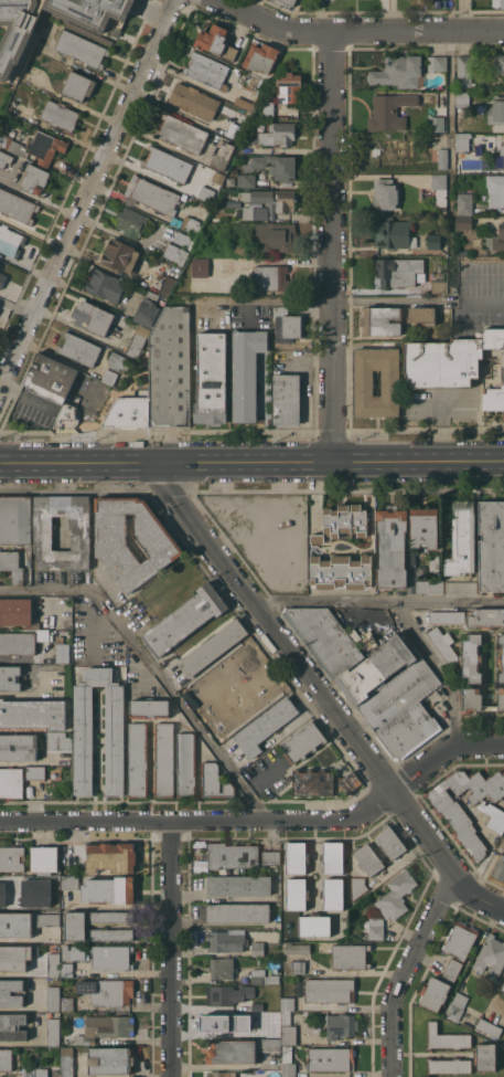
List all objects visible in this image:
building: (287, 2)
building: (502, 4)
road: (355, 32)
building: (216, 42)
building: (82, 49)
building: (12, 50)
building: (261, 57)
building: (500, 62)
building: (437, 63)
building: (206, 70)
building: (465, 70)
building: (399, 72)
building: (78, 85)
building: (289, 86)
building: (462, 99)
building: (194, 101)
building: (272, 108)
building: (389, 110)
building: (496, 110)
building: (60, 115)
building: (437, 124)
building: (235, 130)
building: (182, 134)
building: (278, 134)
building: (214, 139)
road: (162, 141)
building: (462, 141)
building: (12, 145)
building: (45, 146)
building: (392, 149)
building: (502, 149)
building: (223, 156)
building: (442, 158)
building: (4, 159)
building: (168, 163)
building: (277, 166)
building: (218, 177)
building: (35, 180)
building: (246, 180)
road: (89, 187)
building: (440, 189)
building: (495, 189)
building: (385, 193)
building: (206, 194)
road: (37, 197)
building: (272, 198)
building: (158, 202)
building: (465, 203)
building: (18, 207)
building: (255, 212)
building: (131, 222)
building: (464, 222)
road: (109, 230)
building: (395, 233)
building: (277, 236)
building: (186, 240)
building: (11, 241)
building: (433, 241)
building: (495, 241)
road: (335, 249)
building: (236, 250)
building: (175, 253)
building: (121, 255)
building: (200, 266)
building: (399, 272)
building: (271, 277)
building: (2, 279)
building: (107, 285)
building: (167, 286)
building: (439, 286)
road: (451, 293)
building: (151, 295)
road: (486, 300)
road: (14, 305)
building: (147, 312)
building: (422, 315)
building: (93, 317)
building: (380, 320)
building: (286, 325)
building: (138, 341)
building: (79, 348)
building: (449, 359)
building: (119, 361)
building: (170, 369)
building: (246, 372)
building: (109, 376)
building: (51, 378)
building: (212, 378)
building: (140, 381)
building: (364, 382)
building: (493, 398)
building: (287, 399)
building: (129, 412)
building: (67, 416)
road: (438, 431)
road: (251, 465)
building: (15, 520)
building: (343, 521)
building: (423, 527)
building: (43, 532)
building: (462, 538)
building: (492, 546)
building: (392, 547)
building: (162, 548)
building: (11, 566)
building: (433, 566)
building: (341, 571)
building: (429, 585)
building: (461, 587)
road: (47, 591)
road: (379, 598)
building: (17, 612)
building: (447, 616)
building: (485, 617)
building: (185, 619)
building: (326, 637)
road: (423, 641)
building: (18, 644)
building: (443, 644)
building: (212, 647)
building: (63, 653)
building: (501, 656)
building: (472, 657)
building: (377, 669)
building: (10, 678)
road: (325, 693)
building: (399, 695)
building: (479, 700)
road: (180, 705)
building: (150, 709)
building: (33, 714)
road: (455, 719)
building: (265, 726)
building: (408, 731)
building: (84, 740)
building: (303, 741)
building: (58, 742)
building: (18, 747)
building: (138, 759)
building: (164, 760)
building: (186, 764)
building: (35, 772)
building: (214, 782)
building: (11, 783)
building: (323, 783)
building: (493, 816)
building: (458, 819)
road: (264, 820)
building: (73, 849)
building: (395, 849)
building: (230, 855)
building: (111, 857)
building: (271, 857)
building: (297, 857)
building: (333, 857)
building: (12, 858)
building: (44, 859)
building: (500, 868)
building: (69, 883)
building: (239, 886)
building: (357, 887)
building: (109, 890)
building: (6, 893)
building: (43, 893)
building: (297, 894)
building: (333, 894)
road: (189, 895)
building: (397, 895)
building: (238, 912)
building: (111, 918)
building: (47, 919)
building: (15, 925)
building: (314, 925)
building: (76, 926)
building: (375, 928)
building: (111, 935)
building: (226, 940)
building: (460, 940)
road: (171, 948)
building: (257, 949)
building: (297, 949)
building: (74, 952)
building: (17, 957)
building: (350, 957)
building: (491, 957)
building: (111, 958)
building: (54, 964)
building: (294, 967)
building: (222, 968)
building: (67, 969)
building: (452, 970)
road: (31, 973)
road: (404, 974)
building: (262, 976)
building: (503, 988)
building: (330, 990)
building: (107, 991)
building: (12, 993)
building: (435, 993)
building: (223, 995)
building: (267, 997)
building: (53, 999)
building: (67, 1003)
building: (287, 1003)
building: (457, 1006)
road: (32, 1009)
building: (268, 1013)
building: (221, 1023)
building: (341, 1025)
building: (12, 1027)
building: (106, 1027)
building: (490, 1028)
building: (288, 1030)
building: (257, 1031)
building: (53, 1032)
building: (446, 1038)
building: (269, 1044)
building: (232, 1052)
building: (485, 1057)
building: (331, 1058)
building: (6, 1059)
building: (111, 1060)
building: (67, 1062)
building: (288, 1063)
building: (449, 1065)
building: (40, 1073)
building: (217, 1074)

